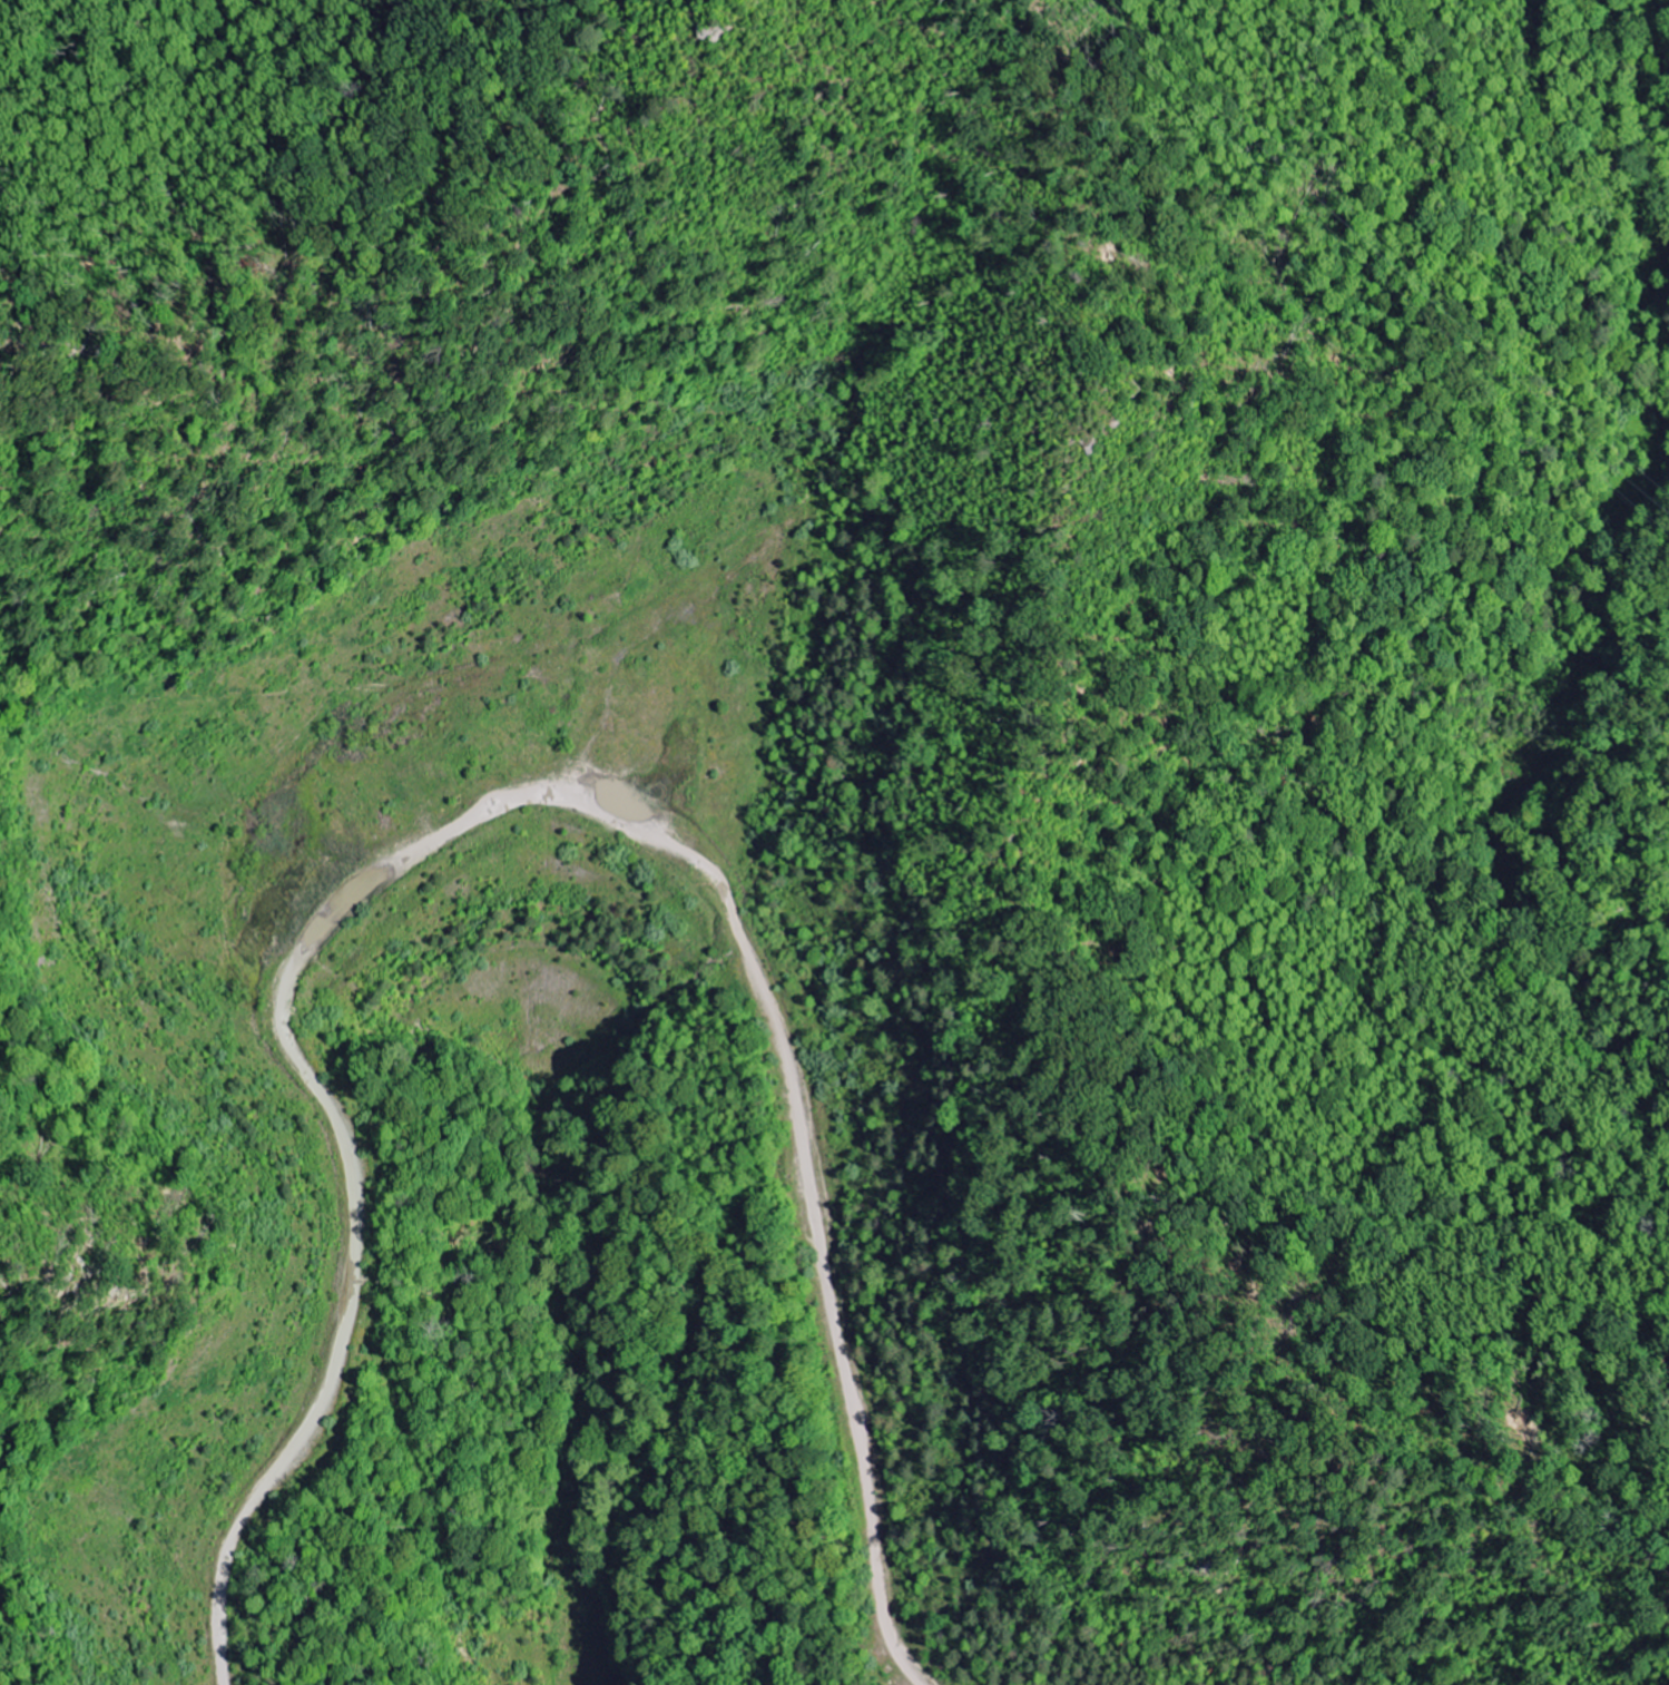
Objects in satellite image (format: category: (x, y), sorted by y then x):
road: (1663, 33)
road: (1663, 352)

